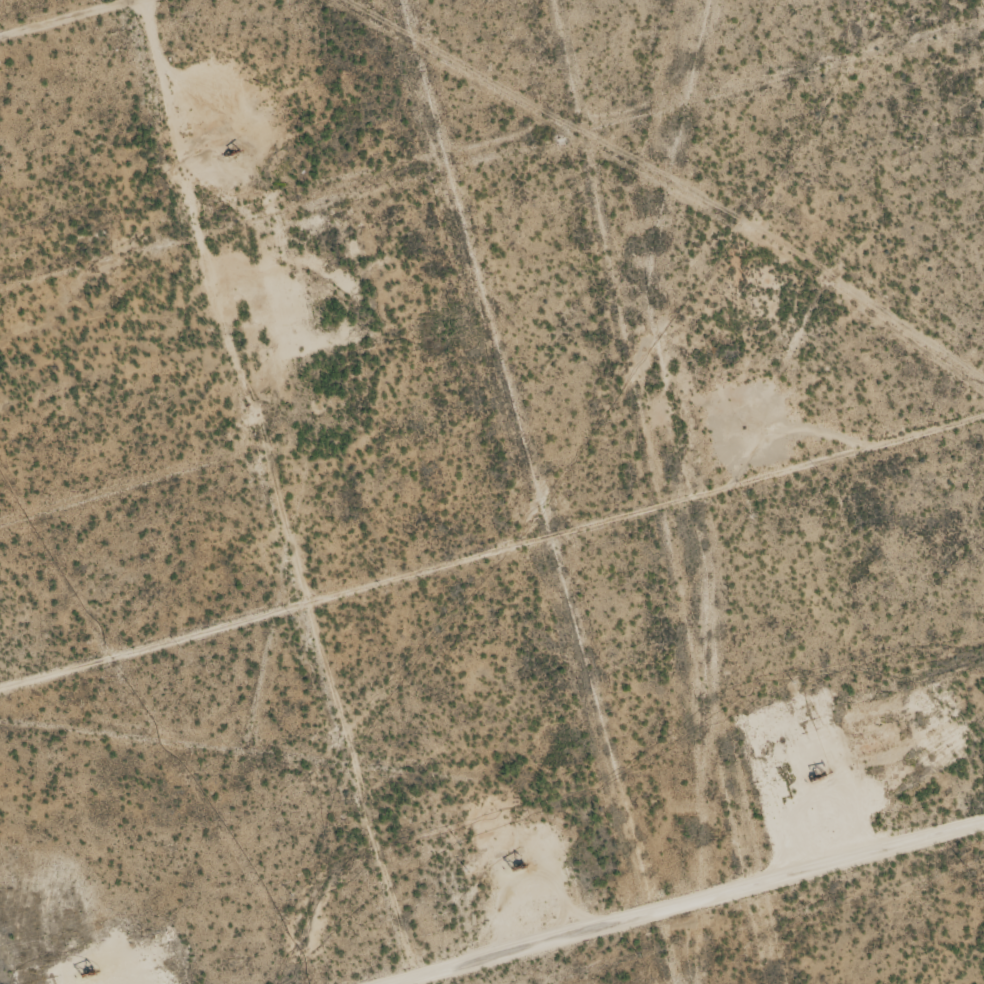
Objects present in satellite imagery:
road: (124, 34)
road: (763, 921)

